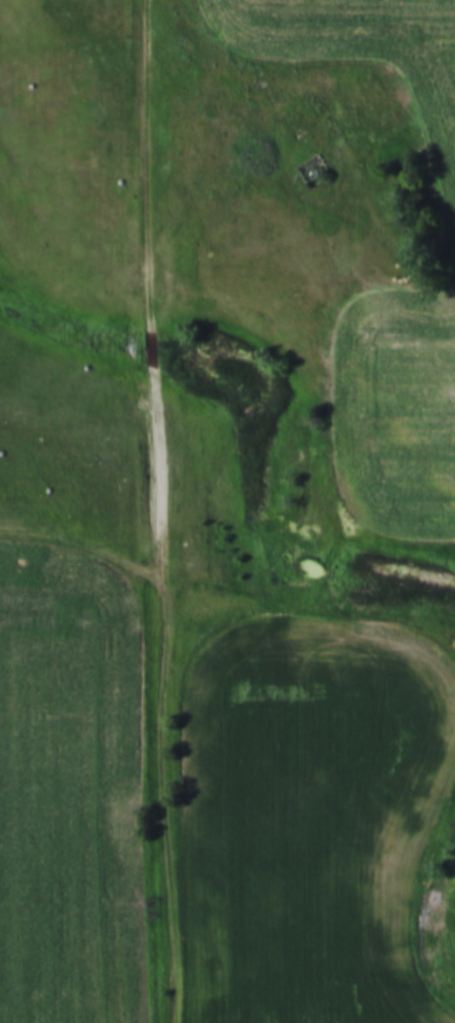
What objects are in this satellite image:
road: (166, 510)

